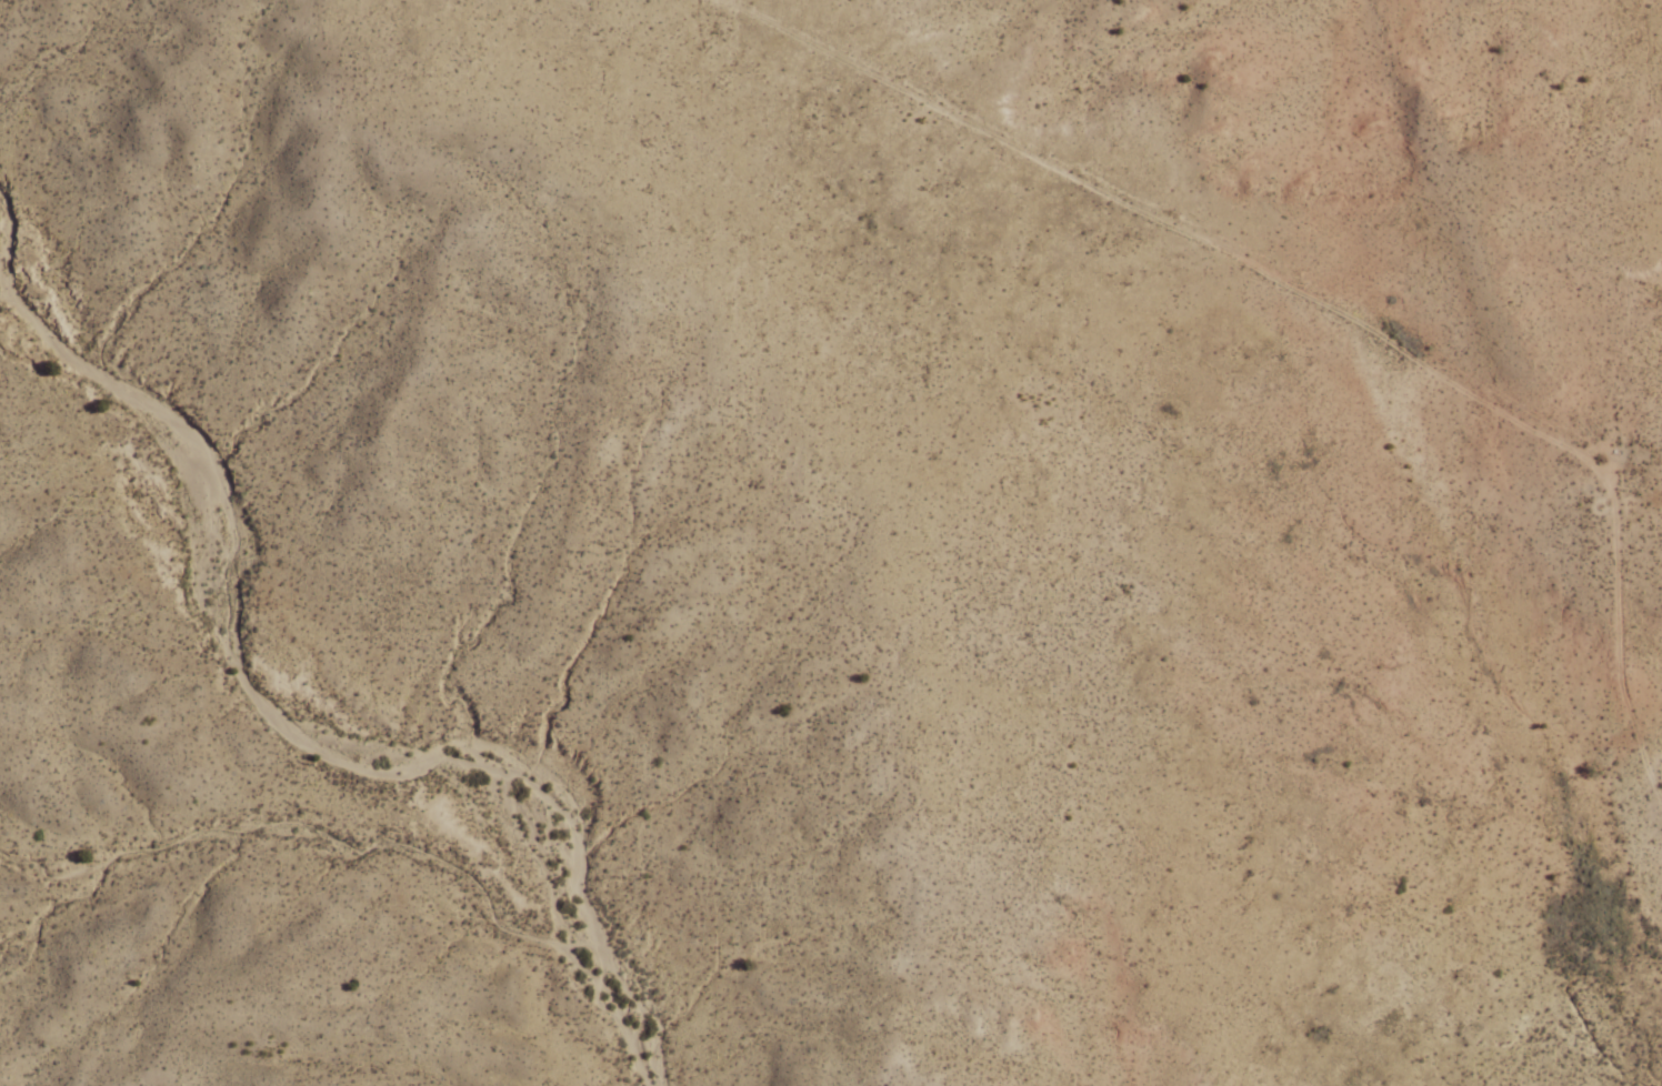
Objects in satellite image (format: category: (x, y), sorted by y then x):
road: (1620, 692)

